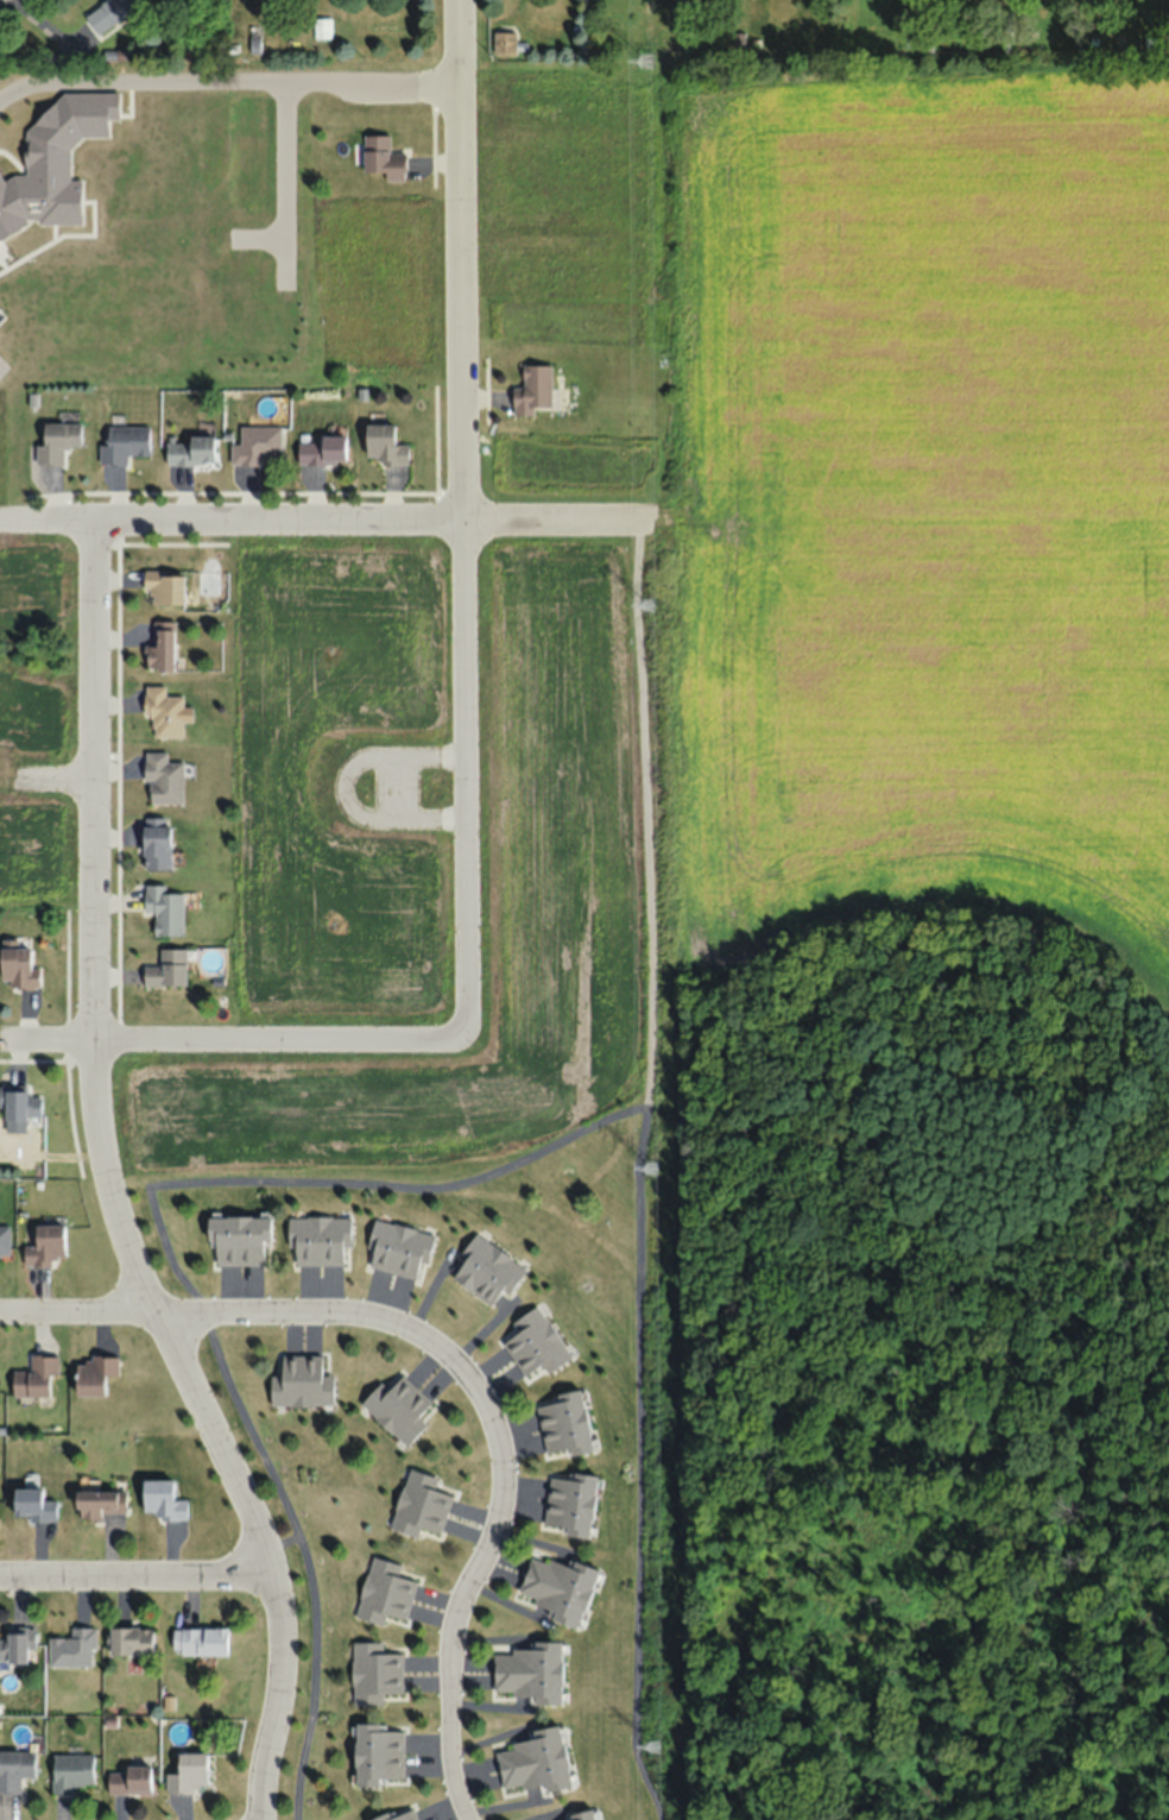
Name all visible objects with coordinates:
building: (108, 12)
building: (504, 40)
power tower: (649, 61)
road: (227, 80)
building: (381, 158)
building: (532, 390)
building: (57, 441)
building: (125, 443)
building: (258, 445)
building: (384, 445)
building: (321, 451)
building: (191, 452)
crop: (928, 503)
road: (462, 515)
road: (323, 517)
building: (164, 585)
power tower: (649, 604)
building: (160, 645)
building: (165, 711)
building: (163, 776)
road: (55, 777)
building: (157, 843)
building: (164, 909)
building: (18, 968)
building: (168, 969)
road: (230, 1039)
building: (21, 1106)
power tower: (649, 1169)
road: (108, 1188)
building: (316, 1233)
building: (235, 1234)
building: (4, 1241)
building: (45, 1245)
building: (398, 1246)
building: (488, 1267)
road: (207, 1309)
building: (535, 1341)
building: (94, 1374)
building: (34, 1377)
building: (298, 1380)
building: (398, 1411)
building: (563, 1421)
building: (428, 1498)
building: (162, 1500)
building: (99, 1503)
building: (571, 1503)
building: (32, 1505)
road: (479, 1558)
road: (139, 1575)
building: (560, 1582)
building: (386, 1589)
building: (129, 1640)
building: (198, 1640)
building: (14, 1648)
building: (72, 1649)
building: (378, 1673)
building: (529, 1673)
power tower: (652, 1745)
building: (378, 1753)
building: (532, 1763)
building: (15, 1769)
building: (71, 1771)
building: (188, 1774)
building: (128, 1780)
building: (399, 1813)
building: (577, 1816)

